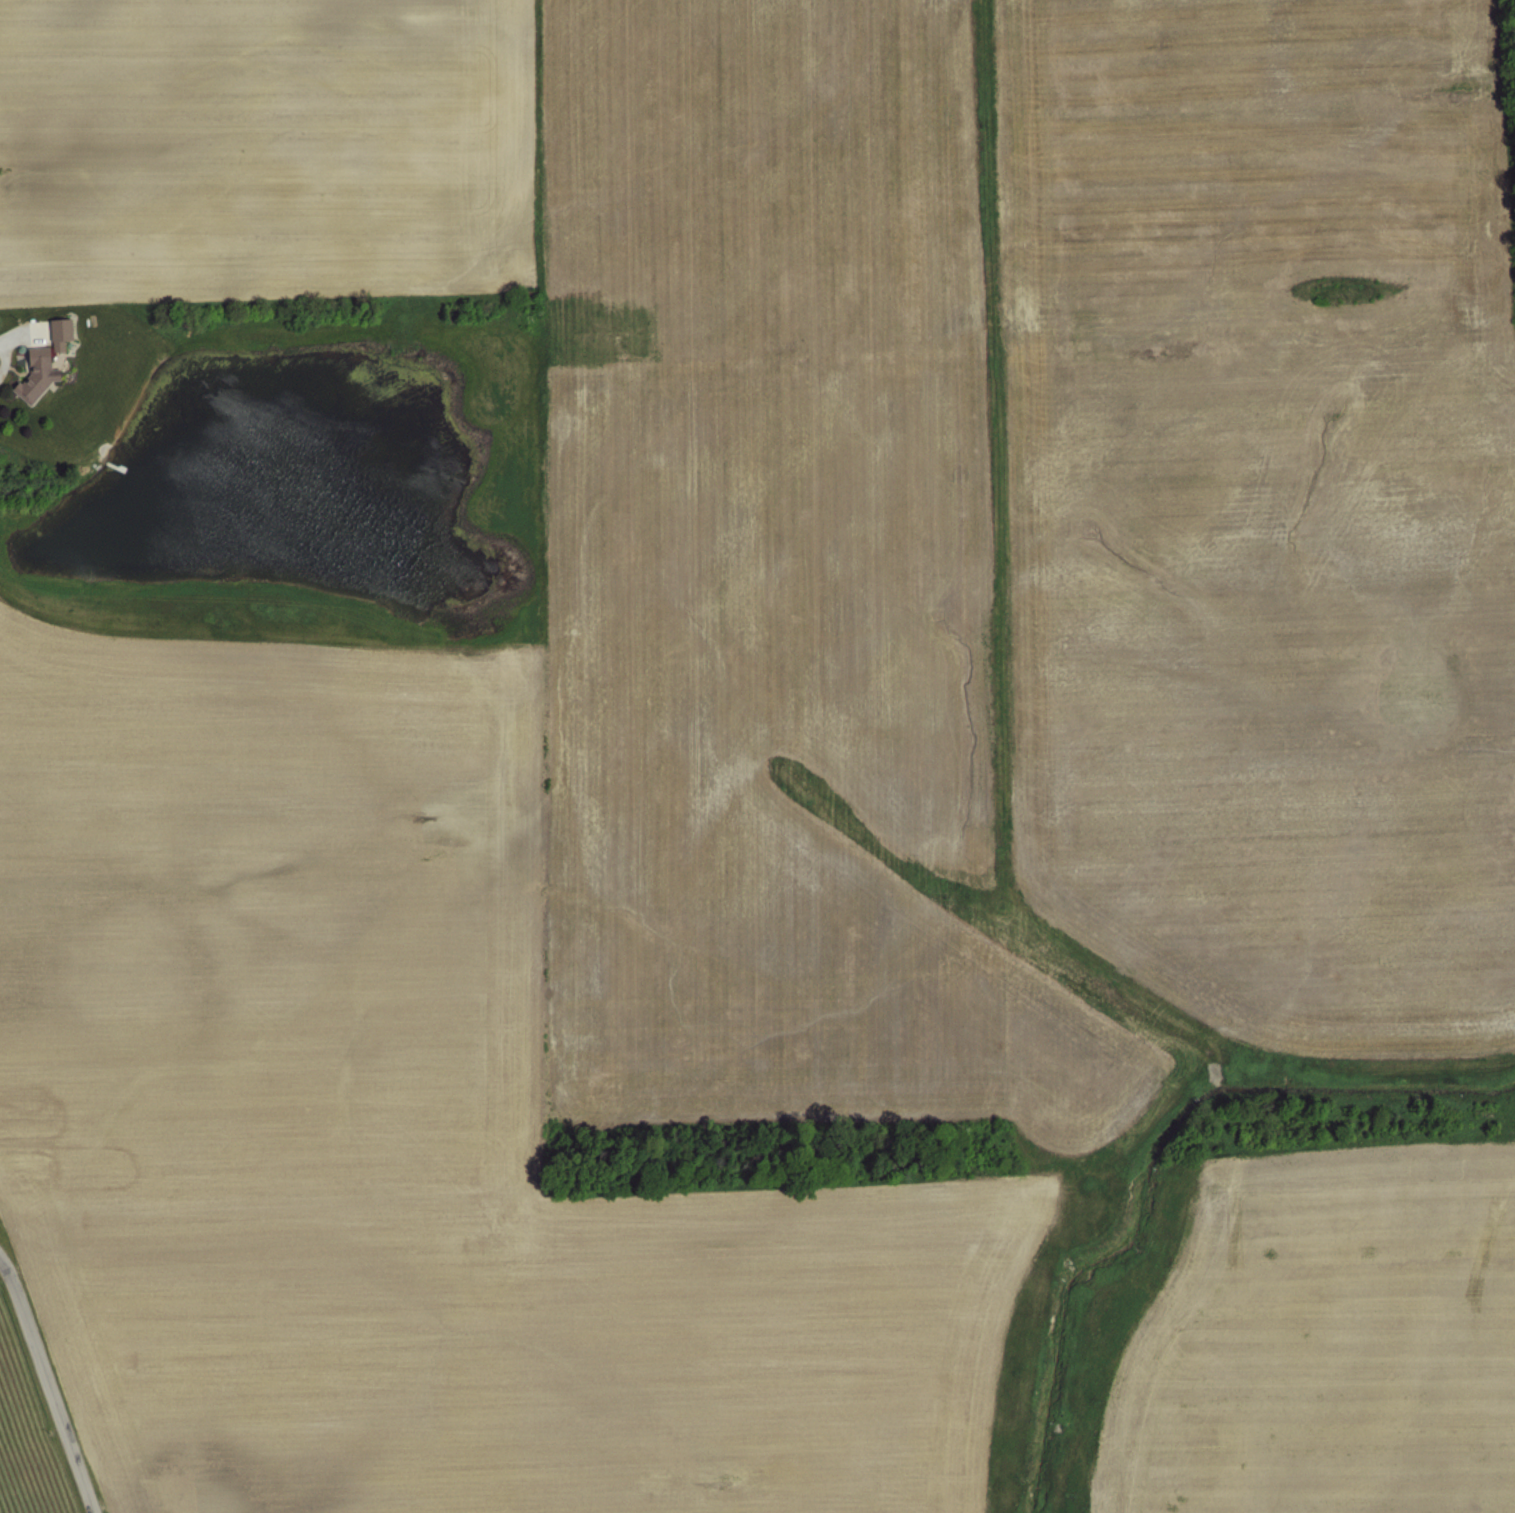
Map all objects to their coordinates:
building: (55, 333)
road: (2, 357)
building: (30, 375)
crop: (763, 750)
road: (8, 1276)
road: (51, 1403)
crop: (52, 1428)

